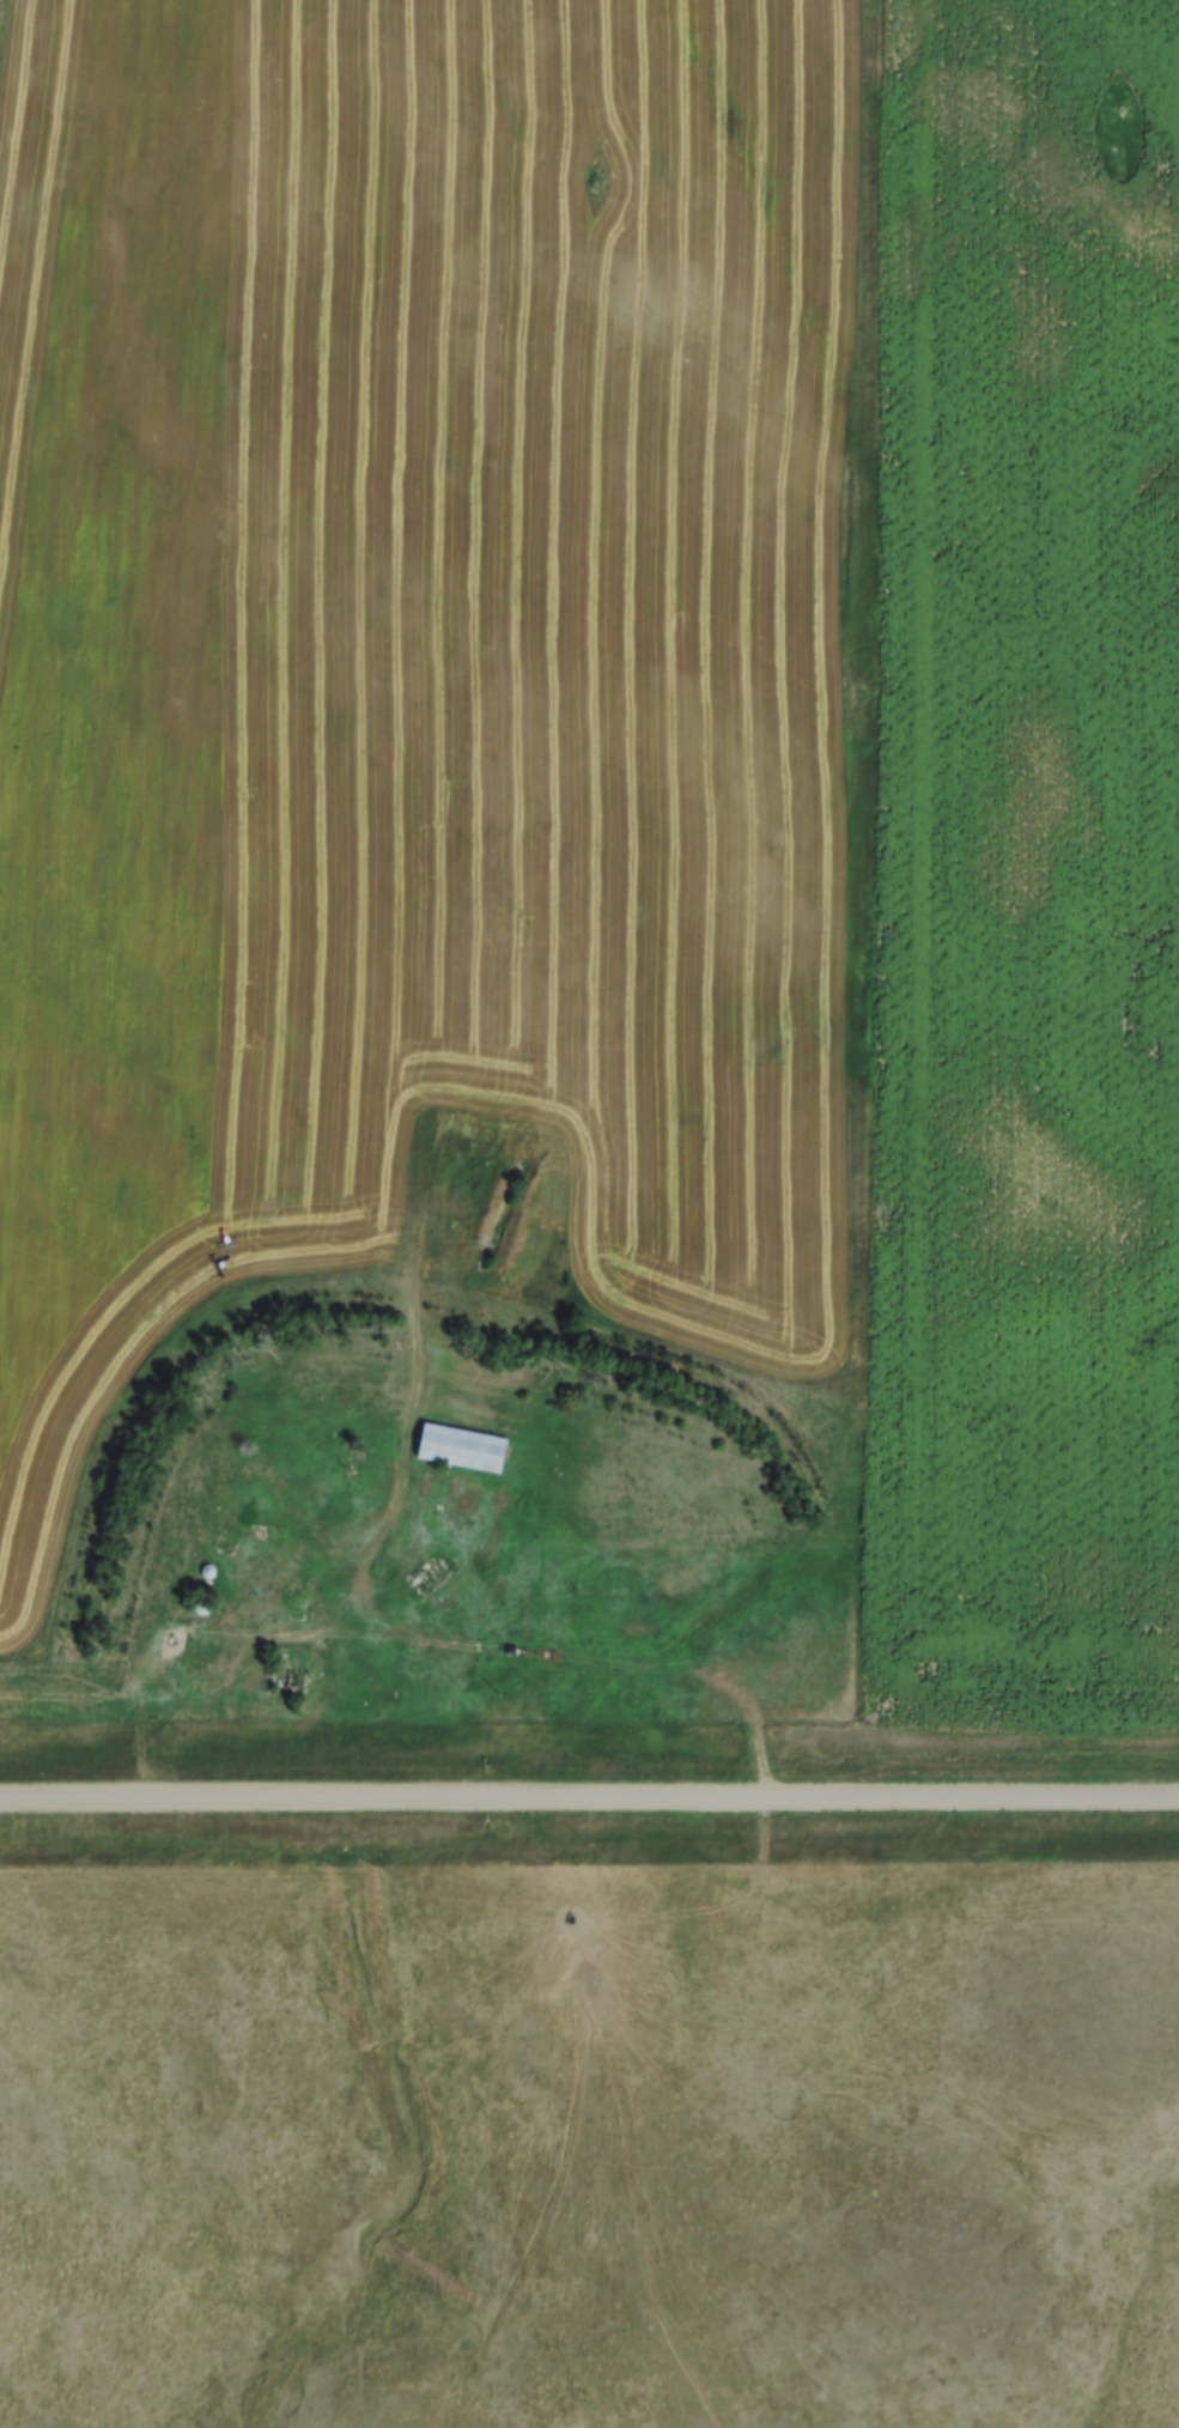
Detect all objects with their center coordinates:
building: (461, 1447)
building: (350, 1473)
building: (429, 1576)
building: (201, 1586)
building: (201, 1607)
road: (306, 1632)
building: (196, 1673)
road: (116, 1699)
road: (589, 1787)
road: (577, 2122)

